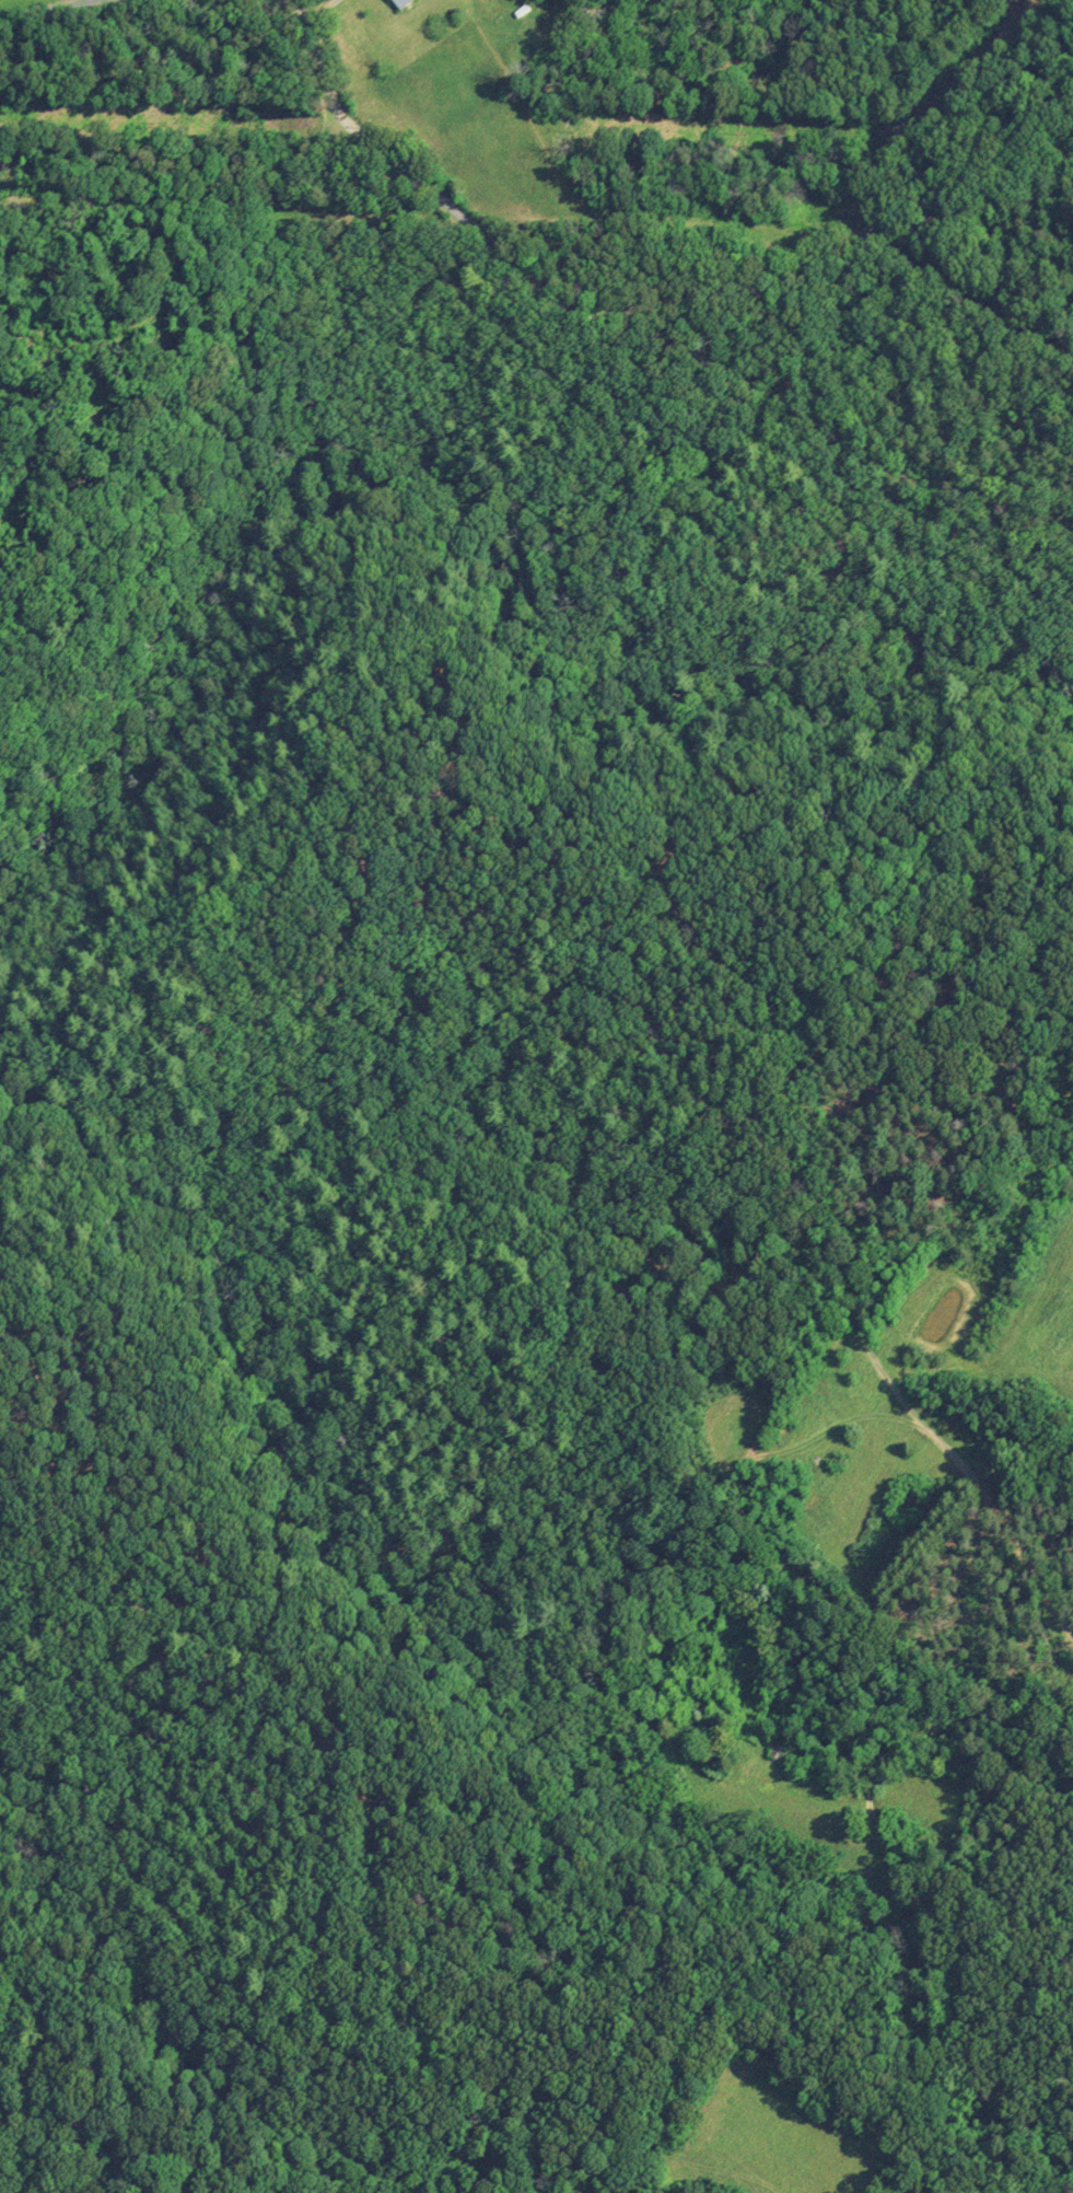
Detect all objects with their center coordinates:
building: (406, 2)
road: (439, 264)
road: (300, 359)
road: (733, 379)
road: (716, 1462)

